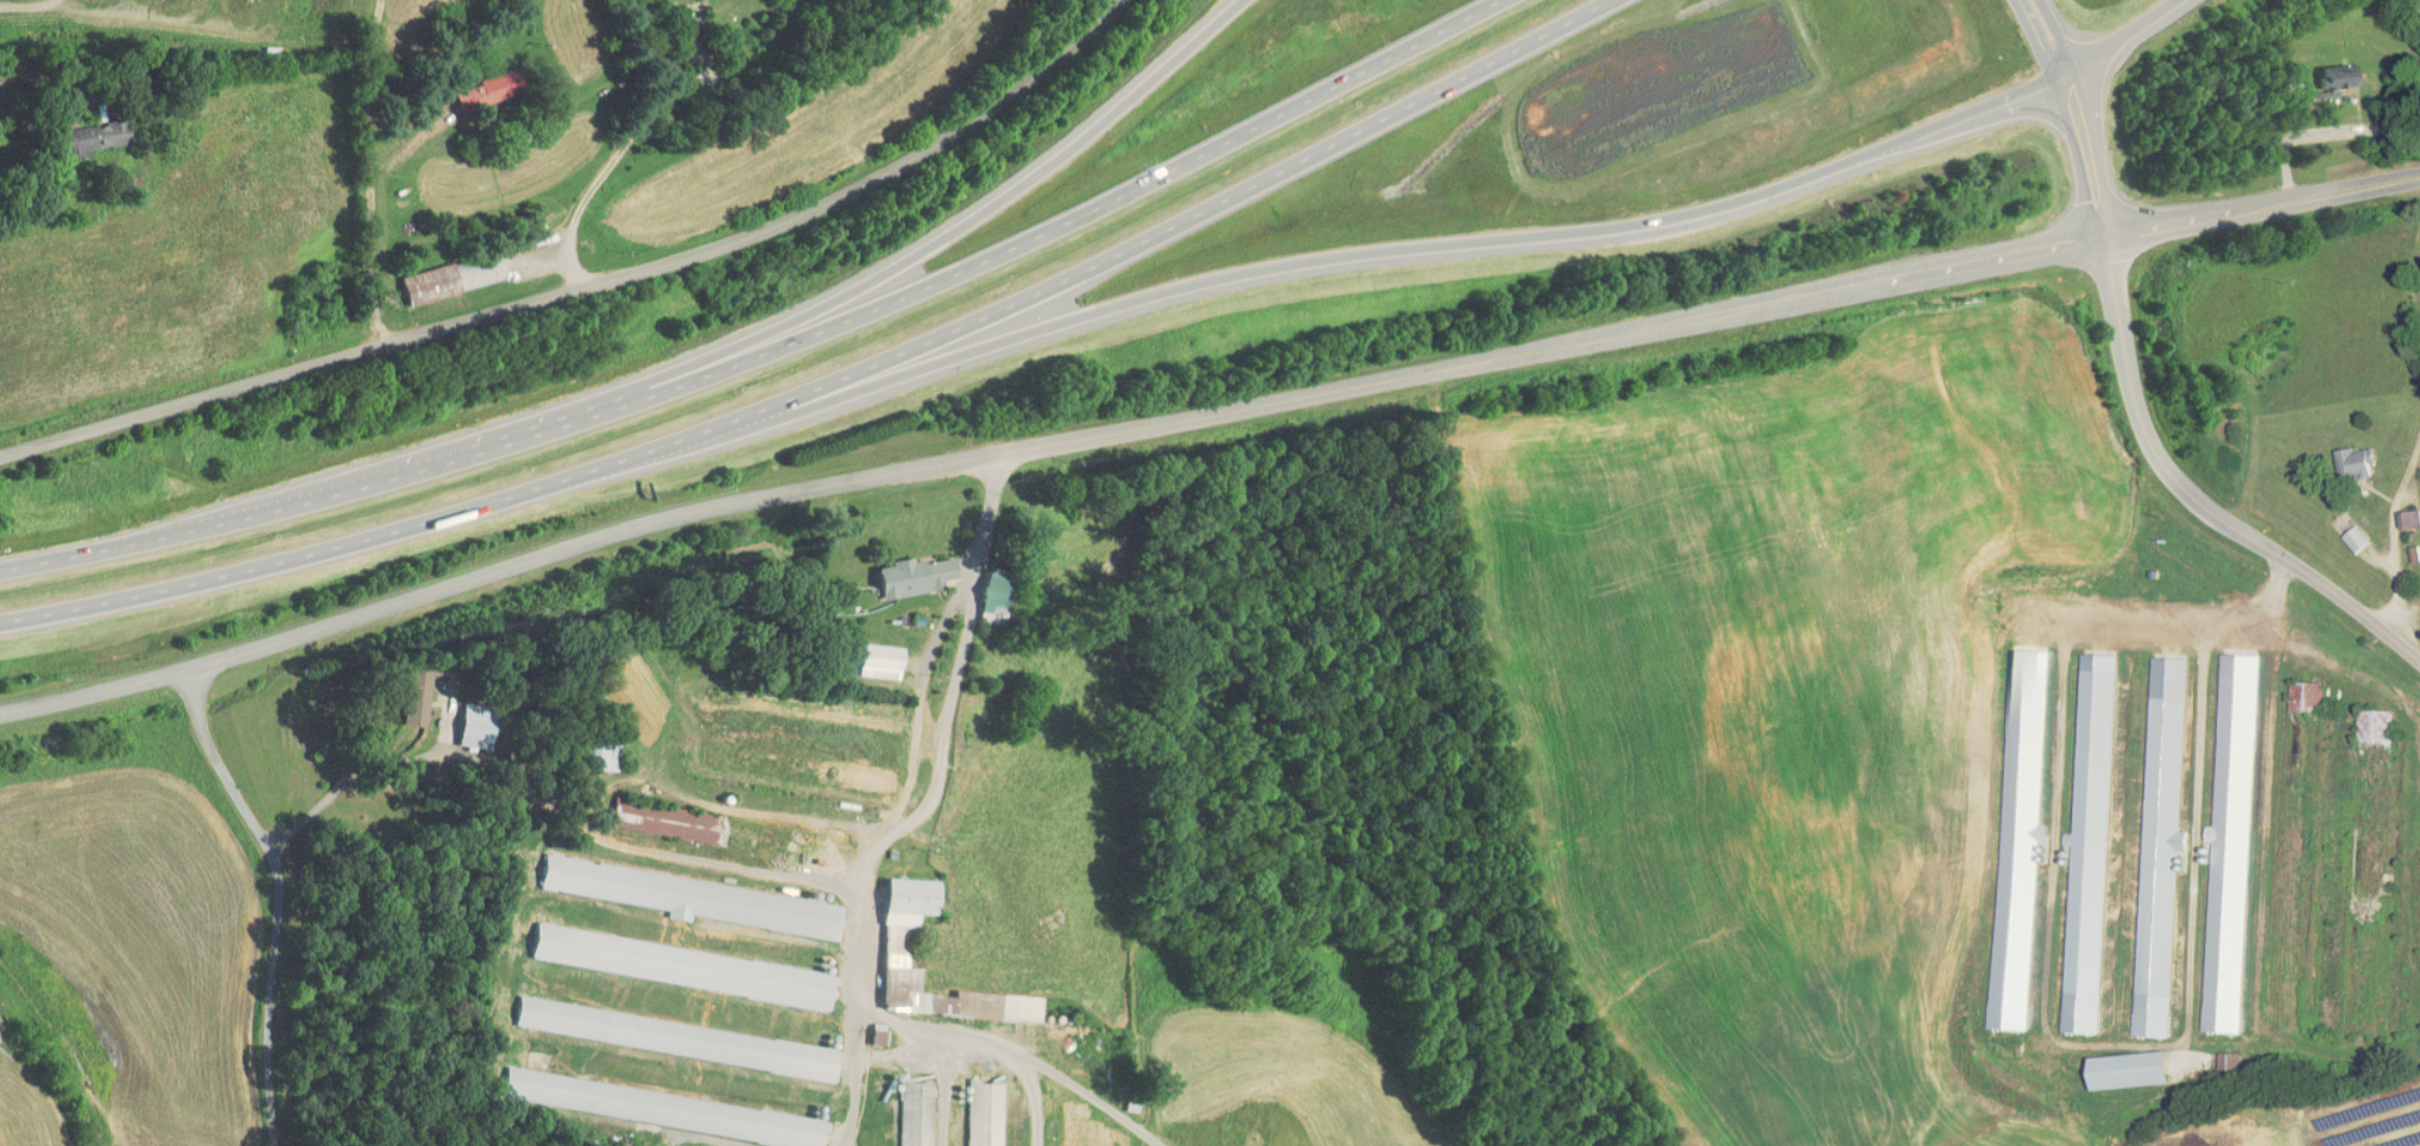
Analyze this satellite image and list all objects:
road: (27, 5)
building: (2326, 71)
building: (476, 83)
road: (2074, 115)
building: (81, 131)
road: (621, 148)
road: (371, 172)
road: (2263, 210)
road: (975, 221)
road: (1600, 232)
building: (441, 272)
road: (590, 289)
road: (776, 350)
road: (852, 403)
road: (1042, 432)
building: (2344, 455)
road: (2399, 487)
road: (2194, 499)
building: (2400, 512)
road: (986, 521)
building: (903, 569)
building: (980, 593)
building: (868, 654)
building: (2295, 689)
building: (404, 695)
building: (466, 720)
building: (2363, 720)
building: (593, 751)
road: (550, 804)
building: (653, 815)
road: (905, 818)
building: (2009, 829)
building: (2149, 837)
building: (2078, 840)
building: (2219, 840)
building: (685, 891)
road: (279, 897)
building: (885, 933)
road: (860, 938)
building: (670, 960)
building: (865, 1026)
building: (665, 1031)
building: (2217, 1055)
building: (2121, 1063)
building: (974, 1095)
building: (651, 1101)

